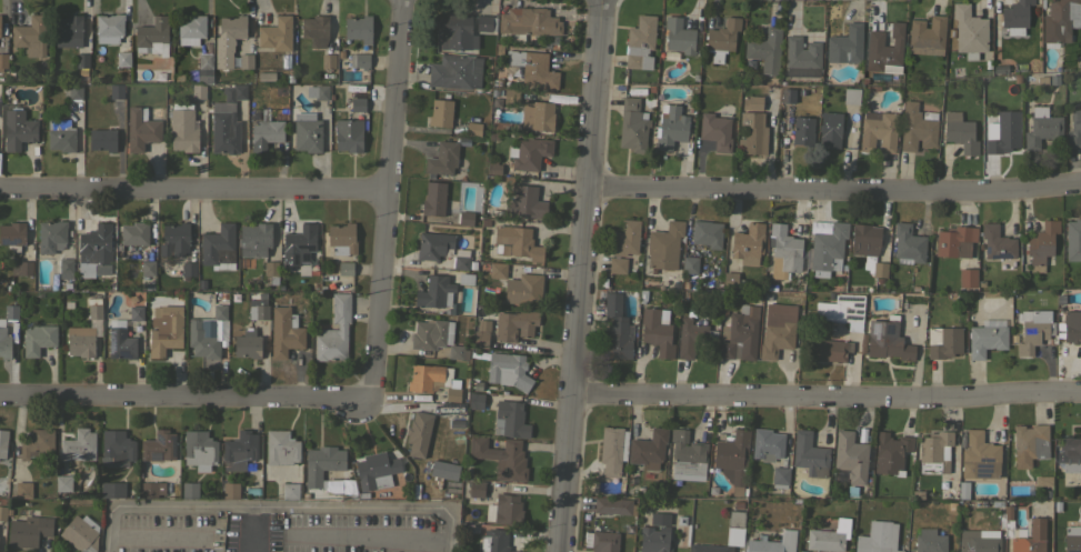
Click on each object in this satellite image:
building: (1015, 17)
building: (1061, 20)
building: (484, 22)
building: (528, 23)
building: (109, 27)
building: (232, 27)
building: (359, 28)
building: (191, 29)
building: (68, 30)
building: (314, 30)
building: (454, 30)
building: (969, 31)
building: (276, 33)
building: (31, 36)
building: (152, 36)
building: (679, 36)
building: (927, 36)
building: (721, 39)
building: (640, 42)
building: (845, 44)
building: (884, 48)
building: (765, 49)
building: (802, 54)
building: (122, 58)
building: (3, 60)
building: (82, 60)
building: (246, 60)
building: (359, 60)
building: (204, 61)
building: (328, 61)
building: (749, 66)
building: (532, 68)
building: (995, 70)
building: (453, 71)
building: (150, 74)
building: (1053, 80)
building: (76, 91)
building: (197, 91)
building: (321, 91)
building: (117, 92)
building: (234, 92)
building: (787, 94)
building: (850, 94)
building: (511, 97)
building: (867, 99)
building: (358, 104)
building: (440, 113)
building: (537, 116)
building: (632, 126)
building: (752, 126)
building: (182, 127)
building: (670, 127)
building: (917, 127)
building: (1042, 127)
building: (18, 129)
building: (473, 129)
building: (830, 129)
building: (141, 130)
building: (1074, 130)
building: (715, 131)
building: (801, 131)
building: (878, 131)
building: (224, 132)
building: (266, 132)
building: (959, 132)
building: (1002, 132)
building: (60, 134)
building: (348, 134)
building: (308, 136)
building: (102, 139)
building: (529, 153)
building: (442, 158)
building: (493, 167)
road: (834, 189)
road: (194, 192)
building: (433, 199)
building: (526, 201)
road: (388, 203)
building: (466, 218)
building: (12, 233)
building: (134, 233)
building: (707, 233)
building: (51, 237)
building: (341, 238)
building: (625, 238)
building: (174, 239)
building: (254, 239)
building: (864, 239)
building: (1073, 239)
rooftop solar panel: (9, 241)
building: (954, 241)
building: (219, 242)
building: (517, 242)
building: (997, 242)
building: (748, 243)
building: (908, 243)
building: (1041, 244)
building: (433, 245)
building: (664, 245)
building: (828, 247)
building: (96, 249)
building: (784, 249)
building: (300, 251)
rooftop solar panel: (985, 251)
rooftop solar panel: (1002, 258)
building: (460, 259)
building: (617, 264)
building: (64, 267)
building: (24, 268)
building: (148, 268)
building: (344, 268)
building: (189, 269)
building: (688, 270)
building: (879, 271)
building: (271, 272)
road: (580, 275)
building: (968, 278)
building: (466, 279)
building: (730, 280)
building: (200, 284)
building: (518, 285)
building: (771, 288)
building: (434, 292)
building: (755, 298)
rooftop solar panel: (853, 299)
rooftop solar panel: (855, 305)
building: (259, 309)
building: (842, 310)
rooftop solar panel: (848, 310)
building: (94, 311)
building: (11, 312)
building: (136, 312)
rooftop solar panel: (859, 313)
rooftop solar panel: (855, 317)
building: (514, 324)
building: (1070, 327)
building: (164, 329)
building: (617, 329)
building: (778, 329)
rooftop solar panel: (875, 329)
rooftop solar panel: (890, 330)
building: (334, 331)
building: (1034, 331)
building: (655, 332)
building: (206, 333)
building: (284, 333)
building: (480, 333)
building: (740, 333)
rooftop solar panel: (121, 337)
building: (692, 337)
building: (436, 338)
building: (38, 339)
building: (884, 340)
building: (985, 340)
building: (80, 341)
building: (943, 342)
building: (4, 343)
building: (120, 343)
building: (247, 344)
building: (827, 350)
rooftop solar panel: (122, 353)
building: (508, 369)
building: (426, 378)
building: (453, 391)
road: (825, 394)
road: (184, 401)
building: (476, 401)
building: (510, 420)
building: (418, 432)
building: (2, 442)
building: (37, 443)
building: (767, 444)
building: (1030, 444)
building: (79, 445)
building: (118, 445)
building: (158, 446)
building: (199, 448)
building: (281, 448)
building: (648, 449)
building: (239, 450)
building: (612, 450)
building: (890, 452)
building: (934, 452)
building: (687, 453)
building: (1069, 453)
building: (809, 454)
rooftop solar panel: (987, 455)
building: (850, 456)
building: (980, 456)
building: (501, 458)
building: (733, 460)
building: (324, 466)
building: (378, 470)
building: (444, 470)
rooftop solar panel: (982, 470)
building: (780, 476)
building: (63, 483)
building: (151, 488)
building: (112, 489)
building: (477, 489)
building: (23, 490)
building: (190, 490)
building: (231, 490)
building: (289, 490)
building: (962, 491)
building: (917, 495)
road: (278, 505)
building: (613, 505)
building: (508, 509)
building: (4, 512)
building: (1007, 512)
building: (660, 519)
building: (734, 528)
road: (251, 529)
building: (29, 530)
road: (369, 534)
building: (80, 535)
building: (829, 536)
building: (1029, 536)
road: (156, 538)
building: (878, 538)
building: (654, 540)
building: (1072, 540)
building: (493, 541)
building: (602, 541)
building: (929, 541)
building: (978, 542)
building: (771, 543)
building: (709, 548)
building: (800, 551)

